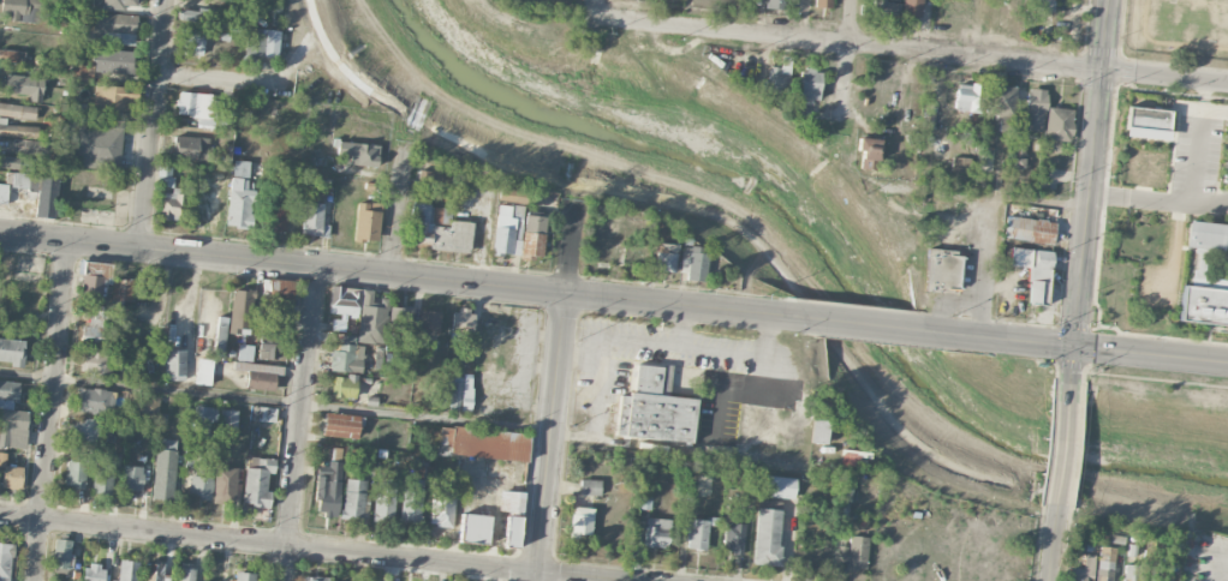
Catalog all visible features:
building: (129, 2)
building: (773, 4)
building: (823, 4)
building: (1045, 5)
road: (596, 6)
building: (886, 7)
building: (913, 8)
building: (18, 10)
building: (195, 16)
building: (232, 22)
building: (115, 26)
building: (193, 42)
building: (255, 42)
road: (911, 52)
building: (12, 55)
road: (845, 61)
building: (108, 62)
road: (198, 78)
building: (777, 79)
building: (809, 84)
building: (23, 86)
building: (113, 96)
building: (967, 97)
building: (1001, 100)
building: (190, 103)
building: (1035, 109)
building: (18, 110)
road: (1215, 110)
road: (151, 122)
building: (1057, 124)
building: (1146, 124)
building: (17, 130)
building: (184, 145)
building: (97, 146)
building: (870, 152)
building: (354, 154)
building: (14, 162)
building: (960, 164)
building: (433, 178)
building: (22, 180)
road: (1089, 187)
building: (4, 192)
road: (1192, 192)
building: (242, 193)
building: (167, 194)
road: (982, 194)
building: (47, 197)
road: (1210, 204)
road: (399, 206)
building: (274, 212)
building: (314, 220)
building: (366, 222)
building: (1029, 228)
building: (437, 229)
building: (518, 229)
road: (35, 236)
road: (192, 252)
building: (664, 257)
building: (692, 262)
road: (769, 268)
building: (942, 270)
building: (1033, 276)
building: (1204, 276)
building: (121, 289)
road: (554, 290)
building: (280, 292)
building: (94, 297)
building: (360, 311)
building: (240, 312)
building: (399, 321)
building: (429, 321)
building: (461, 323)
building: (336, 324)
road: (863, 324)
building: (220, 333)
road: (765, 336)
building: (268, 341)
road: (658, 343)
traffic signals: (1073, 348)
road: (1080, 348)
road: (716, 349)
building: (11, 351)
road: (585, 352)
building: (346, 354)
building: (95, 360)
building: (174, 364)
building: (203, 371)
building: (258, 375)
building: (342, 385)
building: (460, 393)
building: (94, 400)
road: (275, 403)
building: (149, 407)
building: (654, 407)
road: (50, 409)
road: (591, 412)
building: (264, 414)
building: (204, 417)
building: (228, 419)
road: (299, 423)
building: (342, 425)
building: (83, 430)
building: (819, 431)
road: (550, 436)
road: (1063, 441)
building: (482, 443)
building: (335, 454)
building: (209, 468)
building: (165, 469)
building: (10, 474)
building: (74, 474)
building: (103, 475)
building: (131, 478)
building: (257, 480)
building: (225, 485)
building: (197, 486)
building: (589, 486)
building: (781, 486)
building: (327, 489)
building: (353, 498)
building: (509, 501)
building: (383, 502)
building: (411, 502)
building: (644, 502)
building: (441, 504)
building: (580, 522)
building: (472, 528)
building: (512, 532)
building: (656, 532)
building: (768, 532)
building: (697, 533)
building: (733, 537)
road: (1053, 543)
road: (311, 547)
building: (61, 552)
building: (852, 553)
building: (5, 561)
building: (1104, 563)
building: (1083, 569)
building: (129, 570)
building: (154, 571)
building: (94, 573)
building: (1132, 573)
building: (186, 574)
building: (244, 576)
building: (1158, 576)
building: (314, 577)
building: (113, 580)

